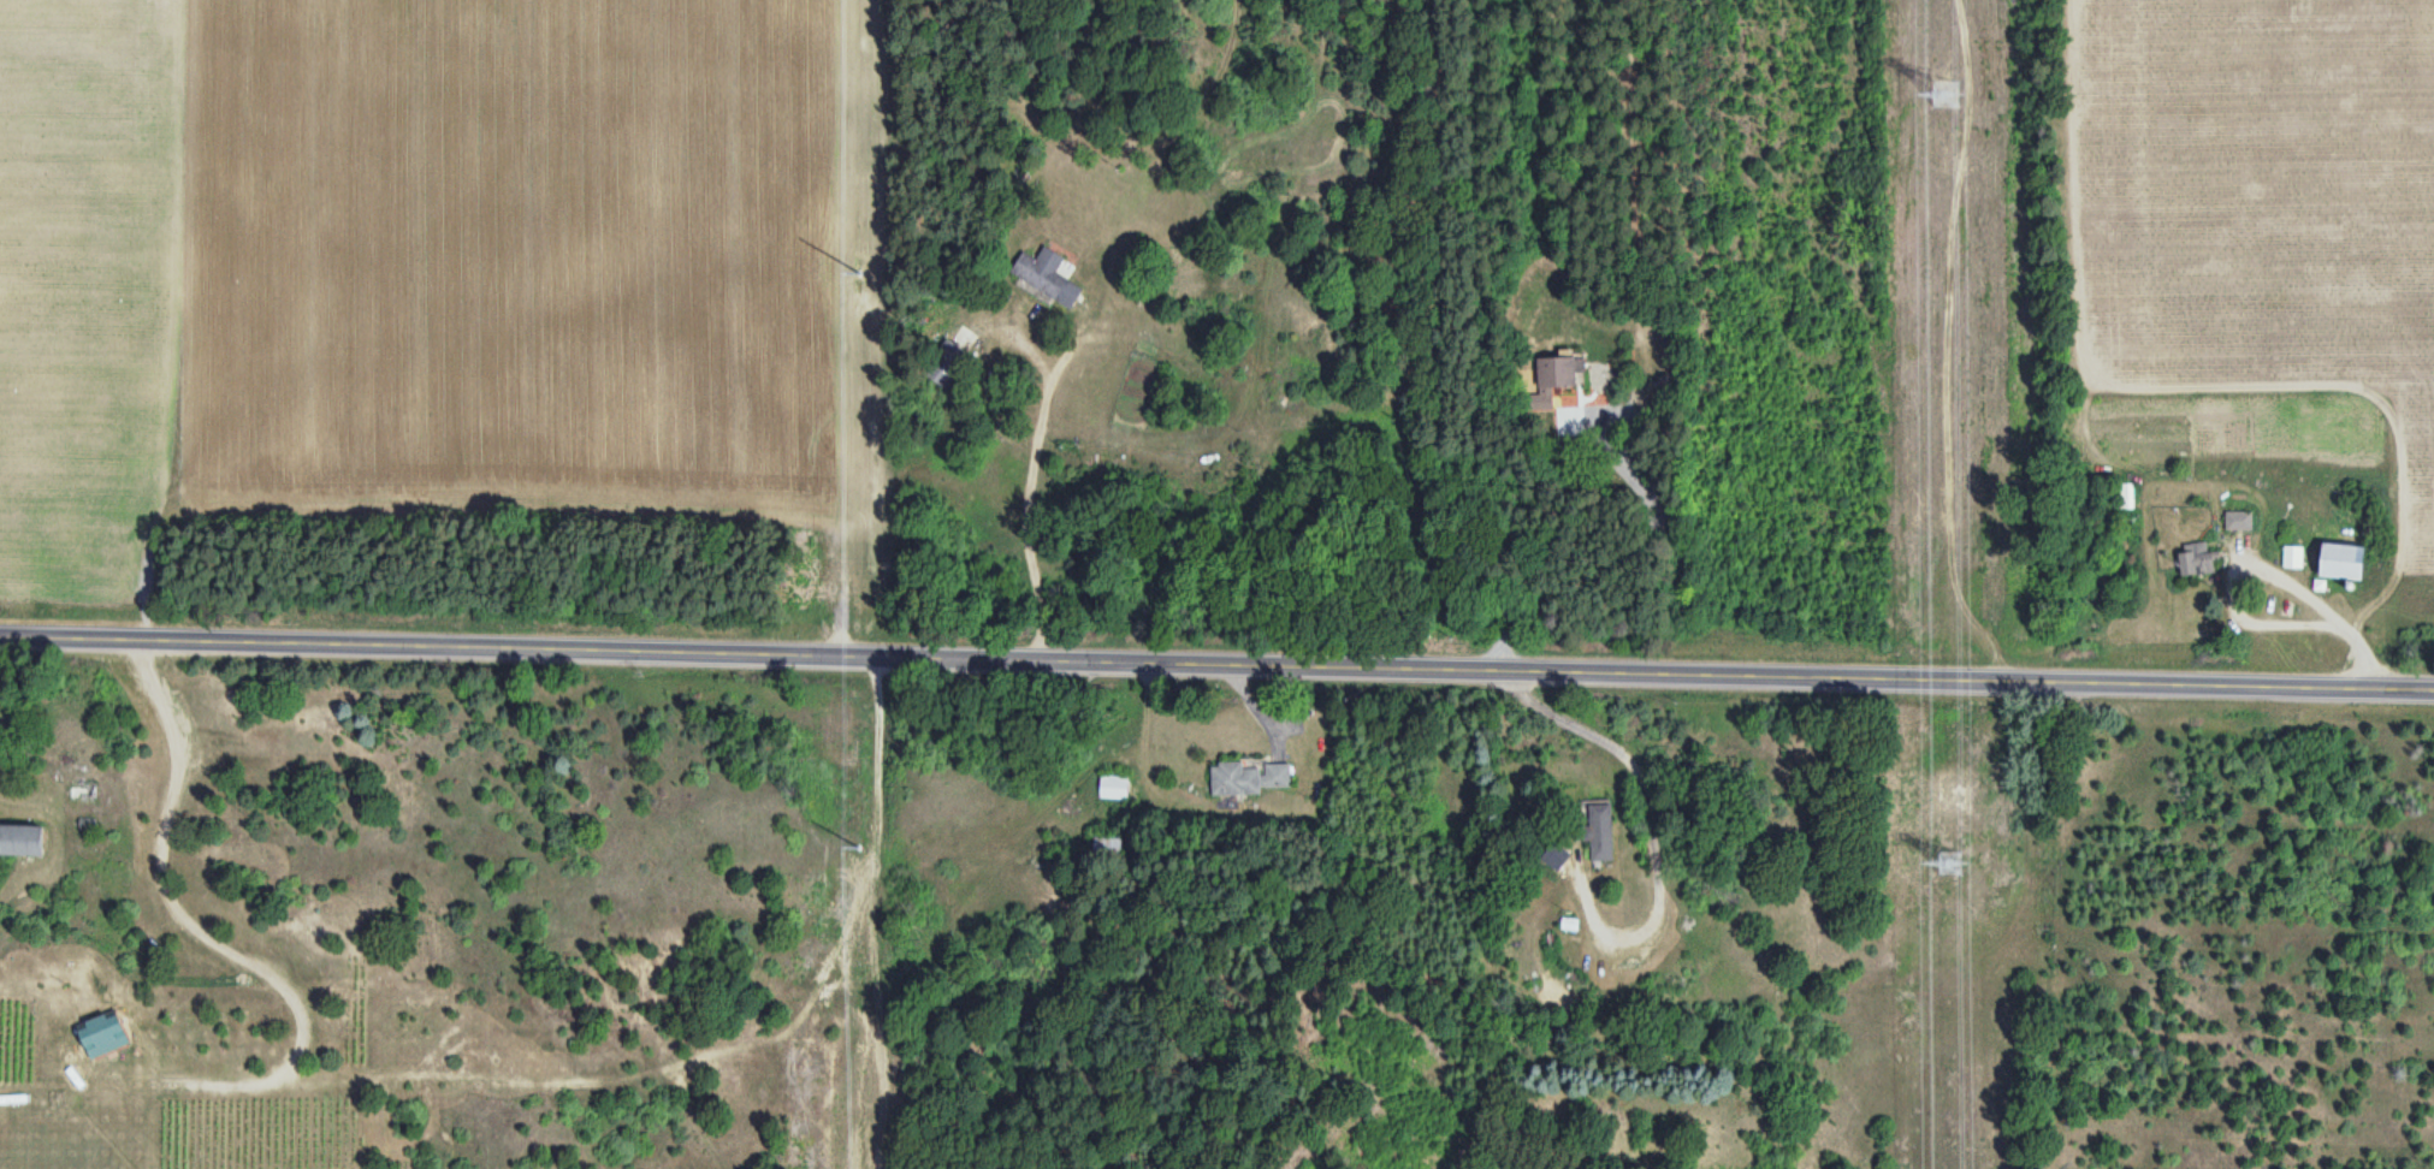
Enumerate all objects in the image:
power tower: (1948, 93)
building: (1042, 277)
building: (941, 366)
building: (1548, 380)
building: (2125, 497)
building: (2234, 521)
road: (1168, 540)
building: (2290, 557)
building: (2192, 559)
building: (2333, 562)
road: (1216, 664)
building: (1246, 778)
building: (1112, 787)
building: (1594, 827)
power tower: (1952, 859)
building: (37, 1112)

